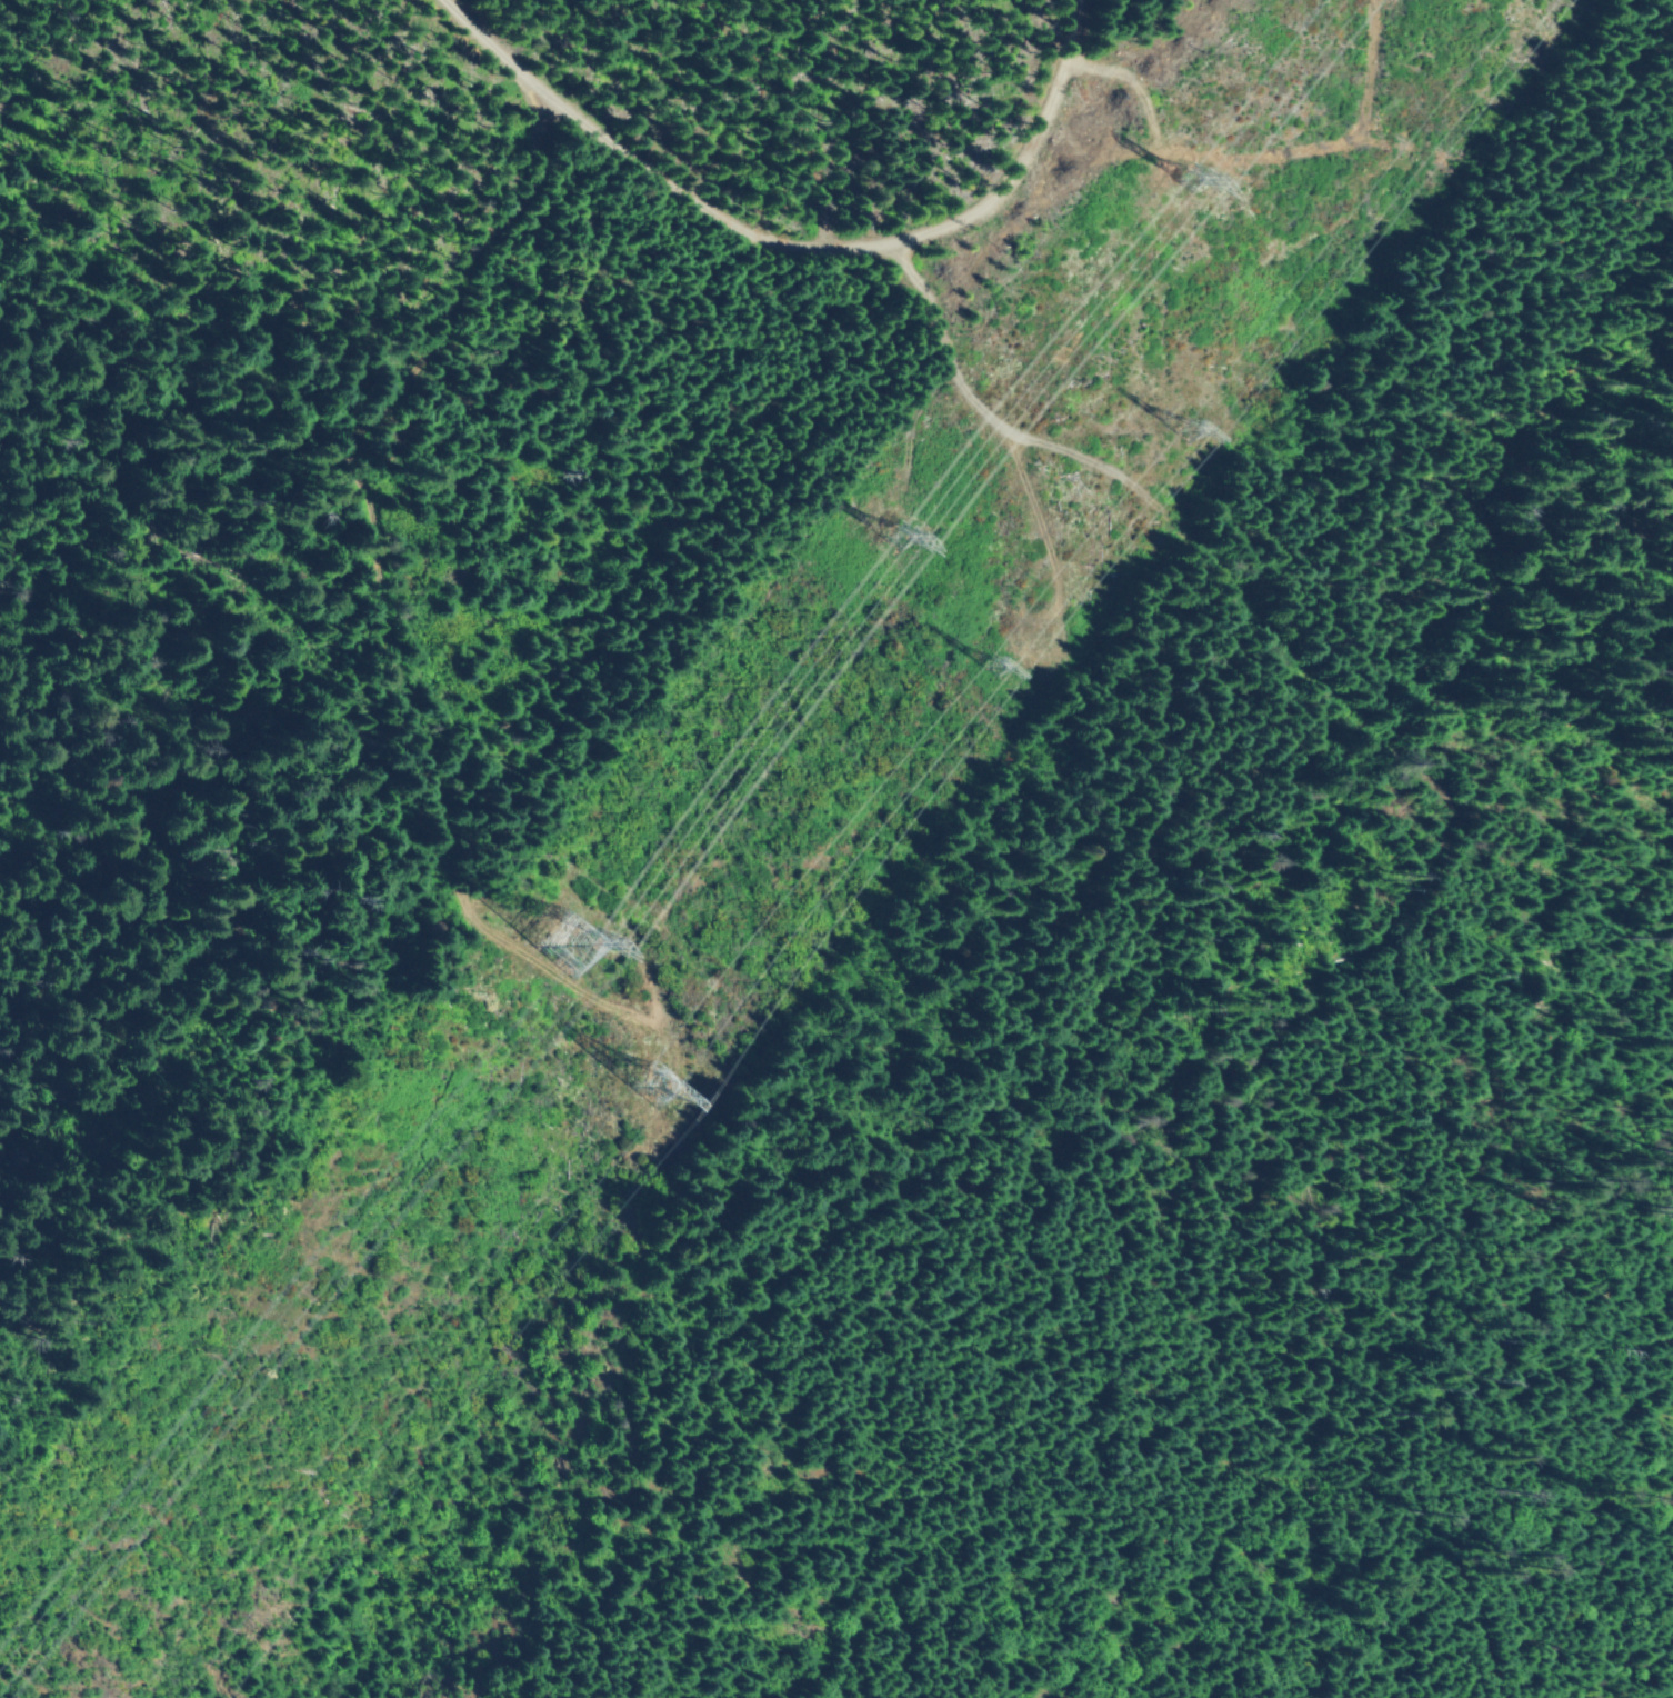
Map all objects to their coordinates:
power tower: (1202, 171)
road: (794, 239)
power tower: (1195, 429)
power tower: (899, 525)
road: (1244, 606)
power tower: (992, 665)
power tower: (569, 941)
power tower: (655, 1081)

